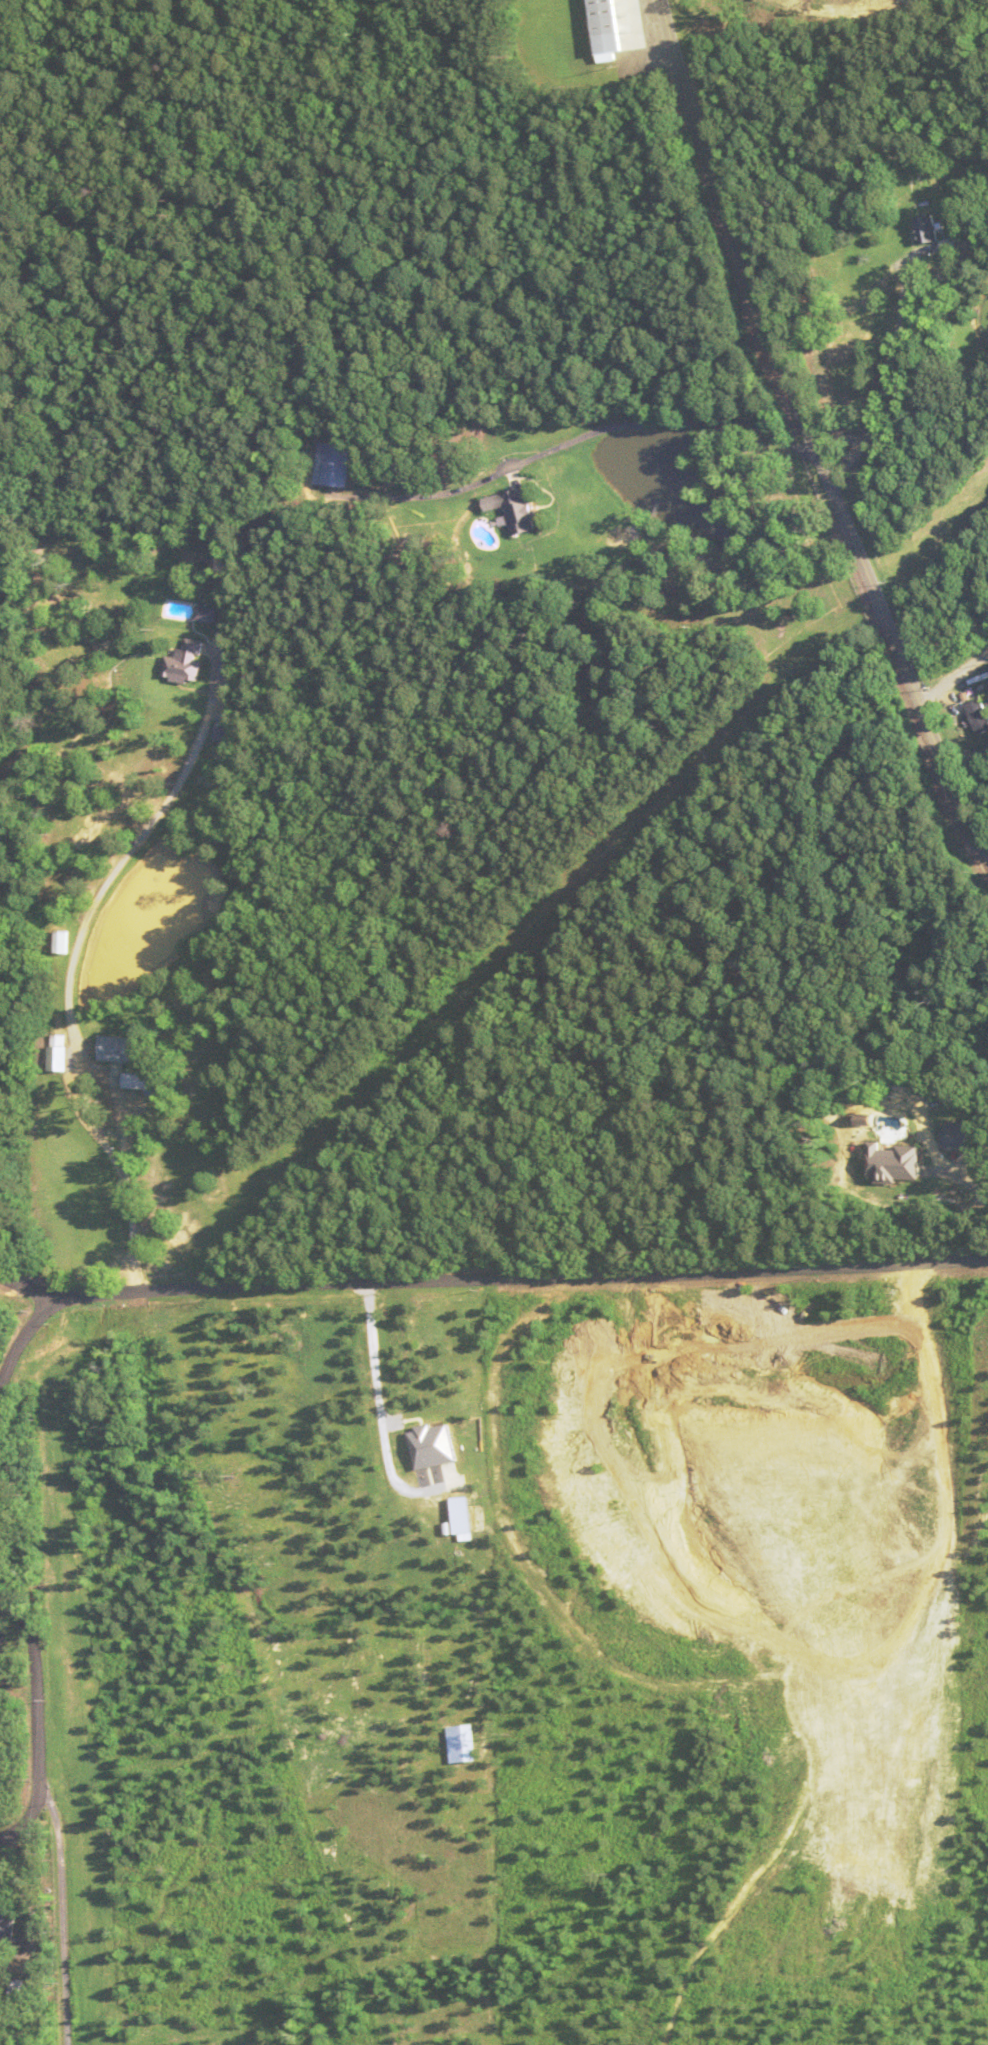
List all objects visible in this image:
building: (618, 24)
building: (926, 228)
road: (810, 431)
building: (335, 463)
building: (517, 508)
building: (207, 613)
building: (186, 661)
road: (953, 677)
building: (978, 715)
building: (10, 820)
building: (63, 941)
building: (121, 1048)
building: (60, 1052)
building: (146, 1081)
road: (516, 1277)
road: (22, 1284)
road: (21, 1340)
road: (21, 1642)
road: (65, 1915)
building: (6, 1931)

